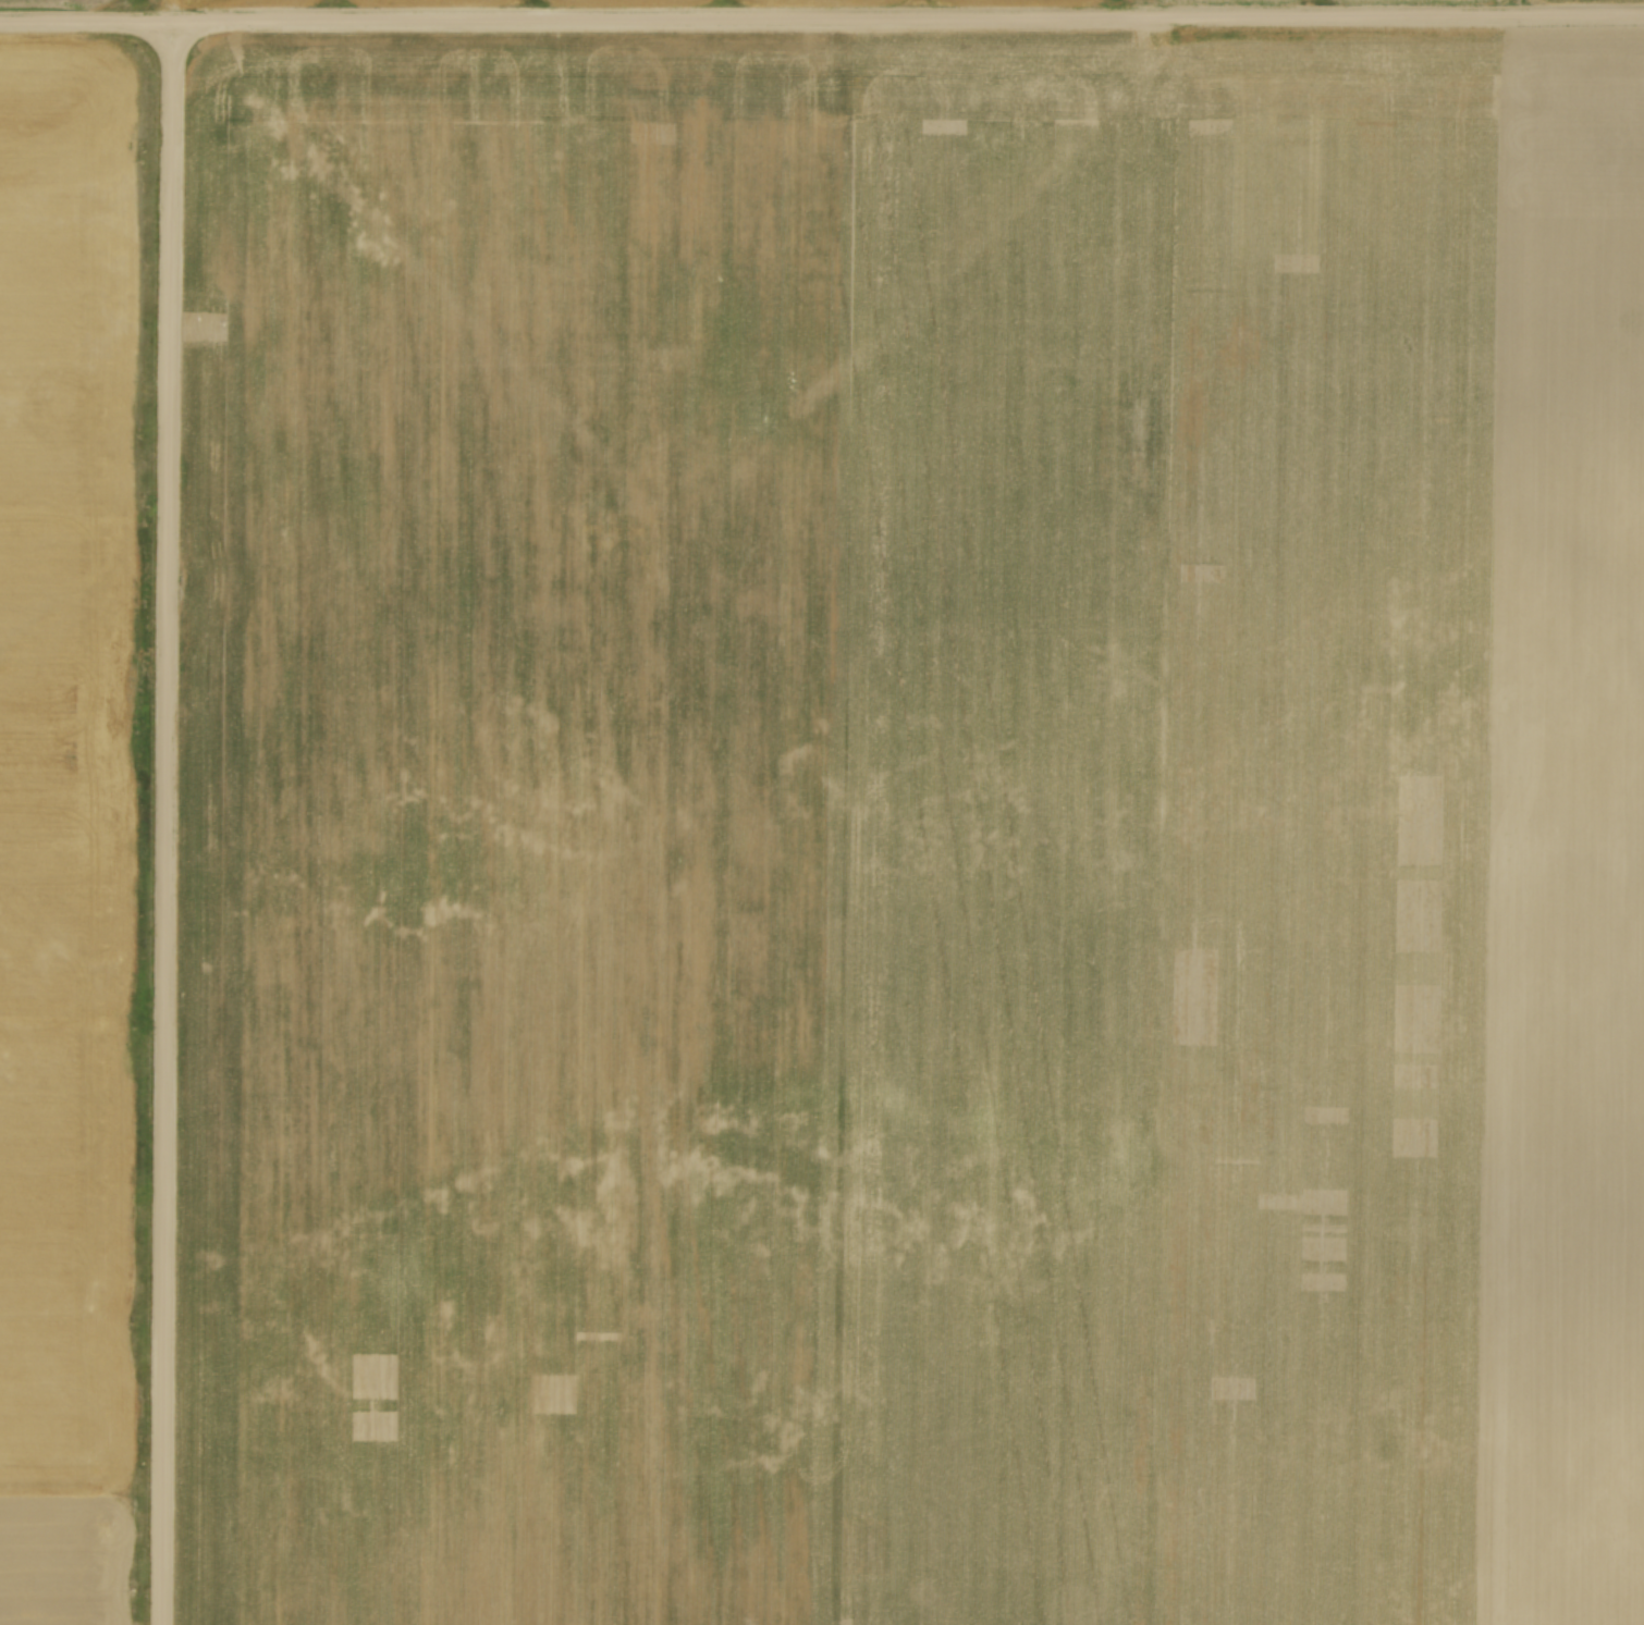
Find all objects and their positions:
crop: (49, 0)
road: (821, 16)
crop: (70, 815)
road: (167, 822)
crop: (911, 834)

